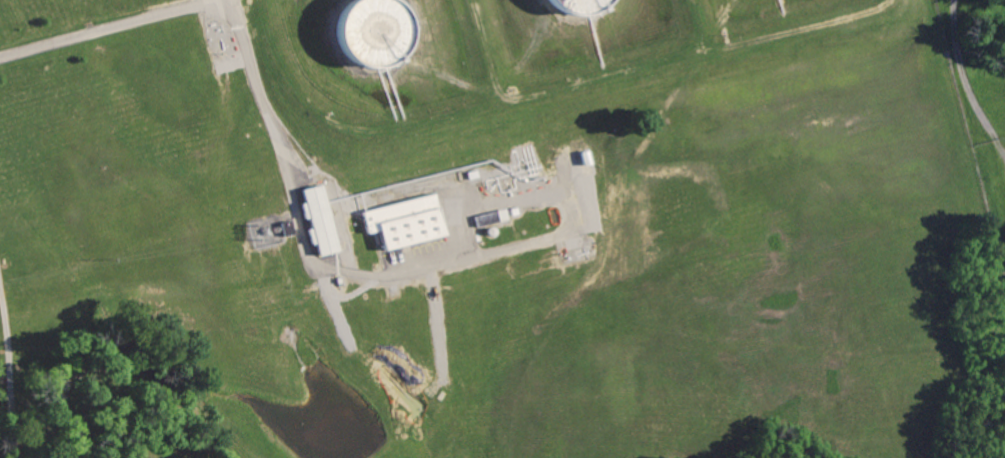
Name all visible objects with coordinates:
building: (586, 7)
building: (379, 33)
road: (293, 184)
building: (493, 217)
building: (322, 219)
building: (409, 219)
building: (286, 227)
road: (13, 366)

